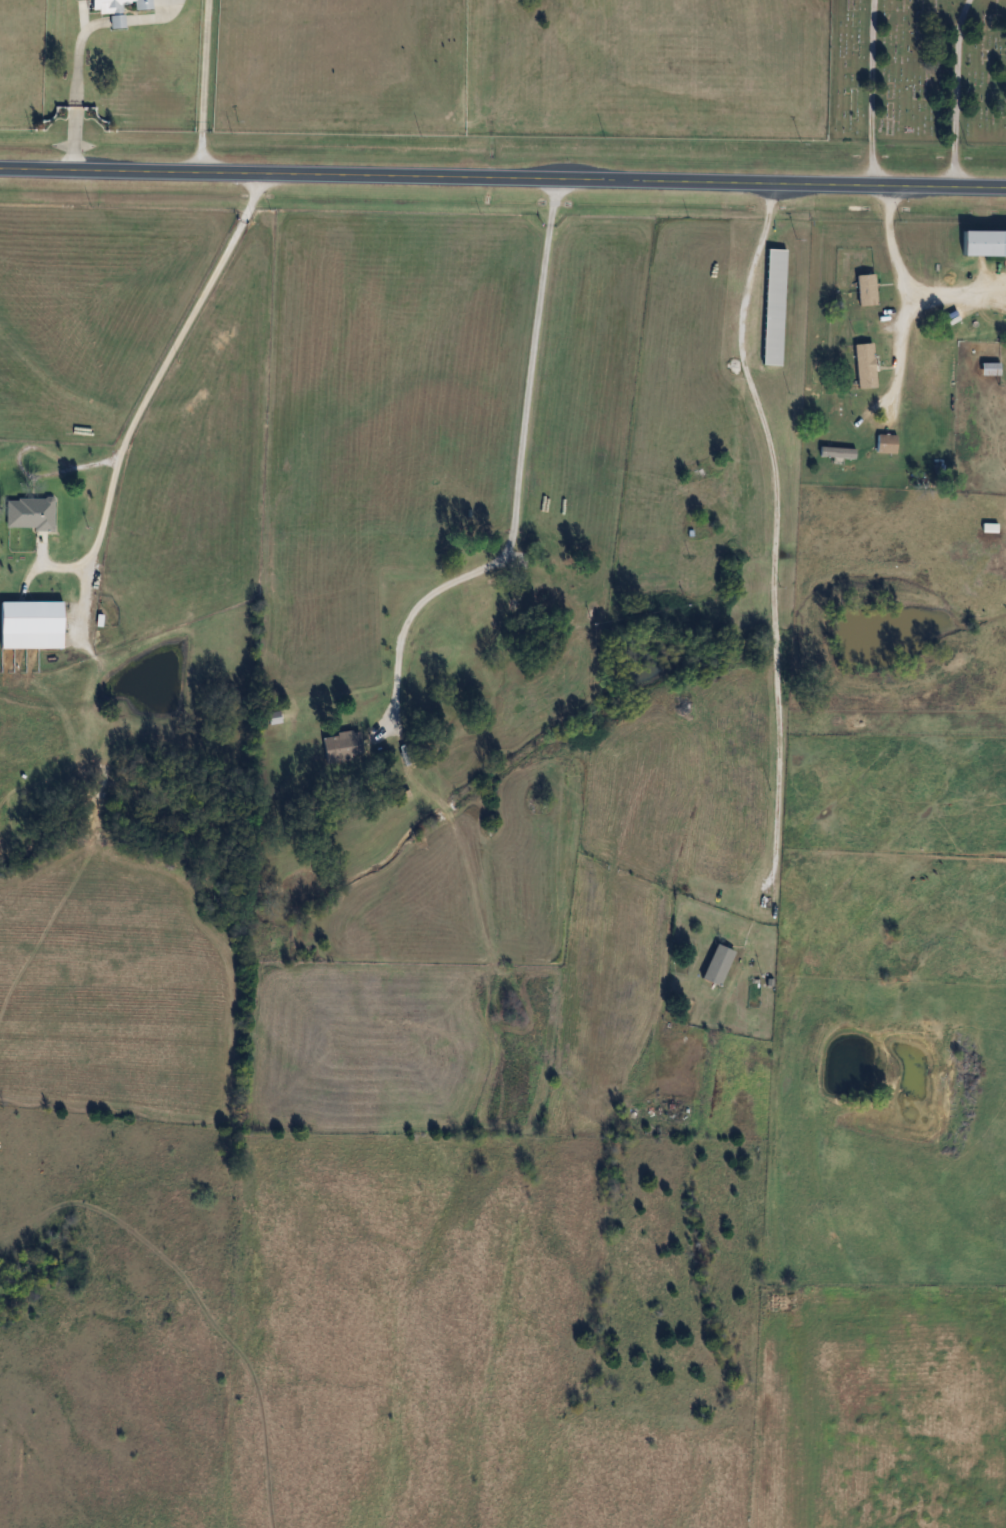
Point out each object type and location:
building: (118, 10)
park: (917, 71)
road: (204, 85)
road: (74, 90)
road: (502, 178)
building: (984, 242)
building: (866, 289)
road: (957, 289)
road: (910, 298)
building: (773, 306)
building: (865, 366)
road: (148, 394)
building: (885, 444)
building: (837, 452)
road: (523, 484)
building: (29, 513)
building: (989, 527)
road: (775, 533)
building: (475, 608)
building: (30, 625)
building: (341, 746)
building: (716, 965)

